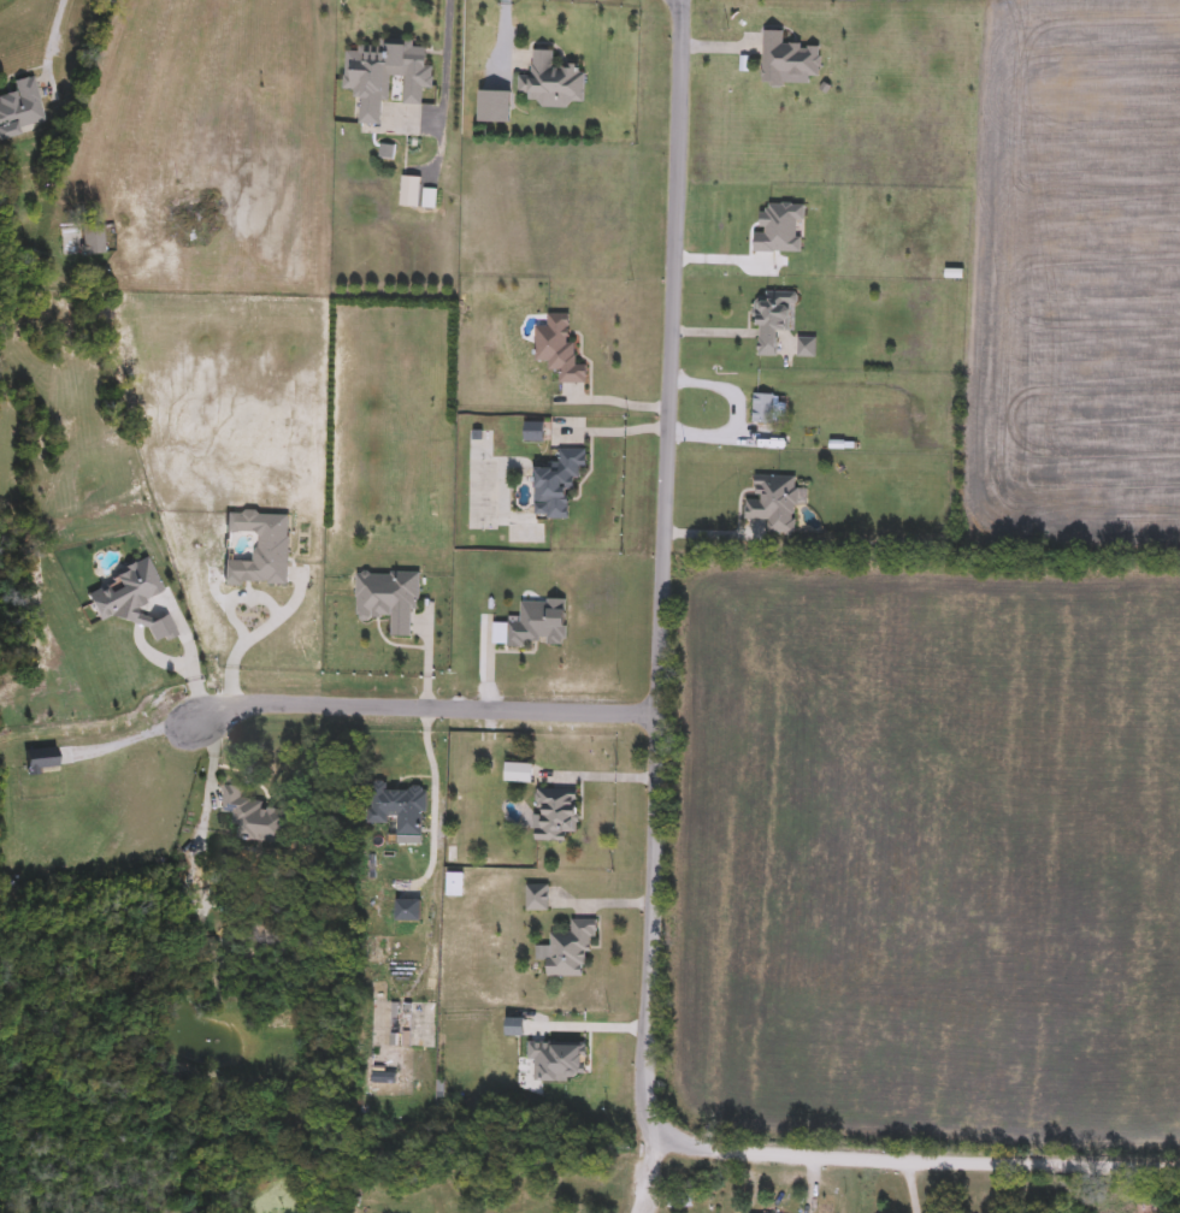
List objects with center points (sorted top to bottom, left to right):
road: (57, 18)
road: (447, 58)
building: (787, 61)
building: (384, 76)
building: (550, 82)
road: (94, 91)
building: (19, 108)
building: (494, 108)
building: (409, 193)
building: (92, 238)
building: (772, 319)
building: (806, 348)
building: (557, 349)
building: (761, 409)
building: (532, 434)
building: (556, 484)
building: (773, 503)
building: (261, 554)
building: (130, 600)
building: (388, 600)
building: (536, 625)
road: (425, 705)
road: (134, 729)
road: (212, 758)
building: (518, 774)
road: (596, 774)
road: (241, 776)
road: (433, 797)
building: (397, 809)
building: (554, 815)
building: (254, 817)
road: (655, 827)
building: (182, 852)
building: (454, 886)
building: (172, 888)
building: (536, 899)
building: (247, 910)
building: (408, 912)
building: (568, 951)
building: (152, 1066)
road: (647, 1160)
building: (678, 1201)
building: (1149, 1207)

